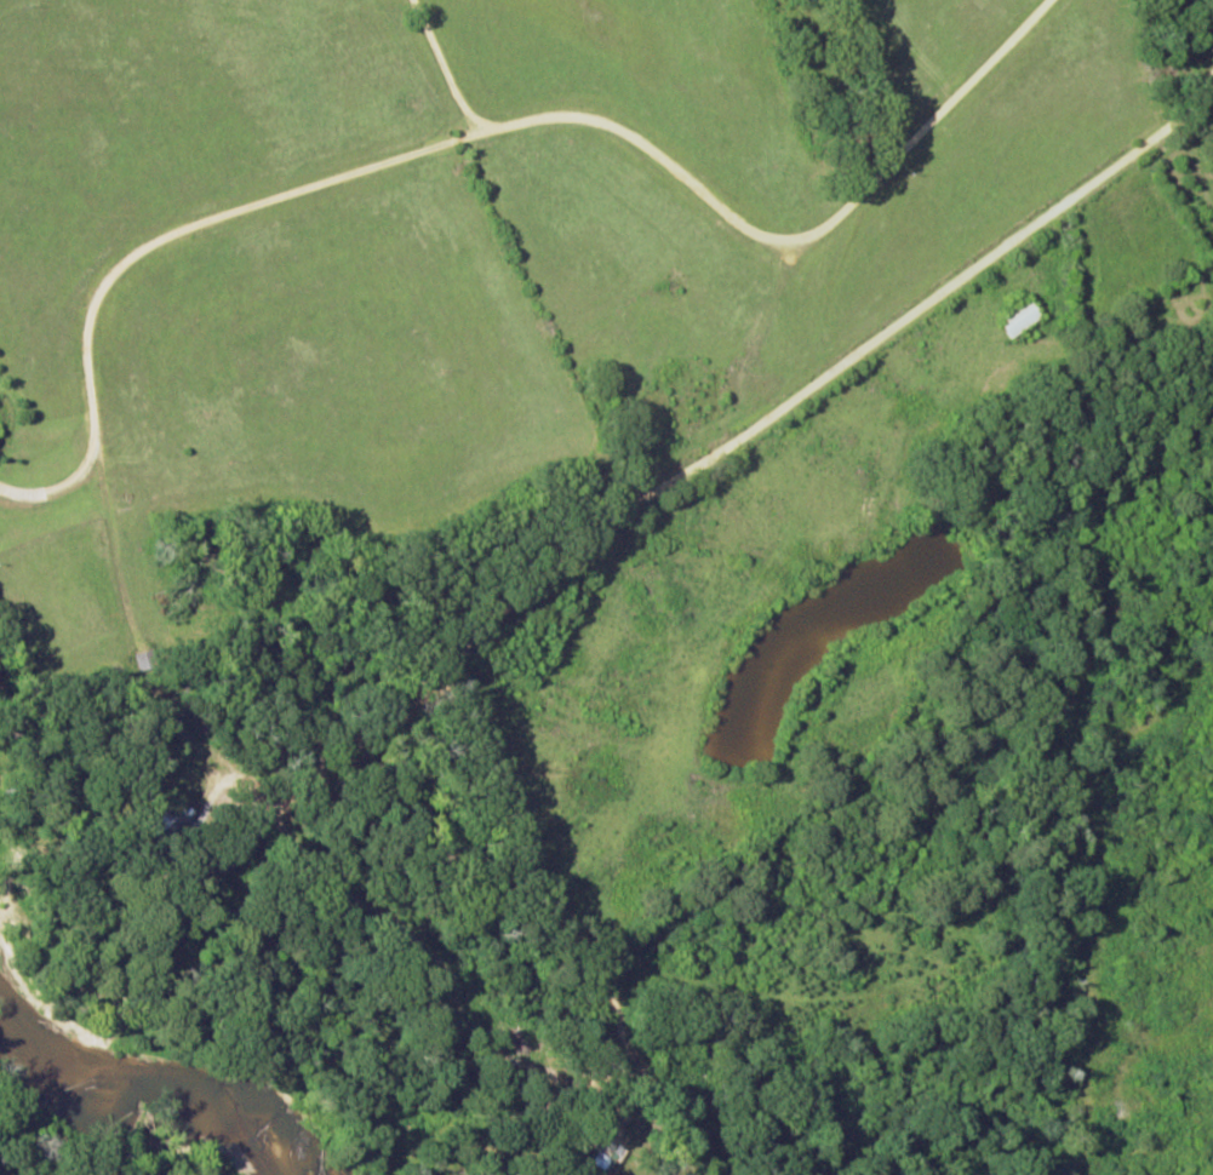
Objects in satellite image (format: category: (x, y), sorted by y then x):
road: (860, 534)

